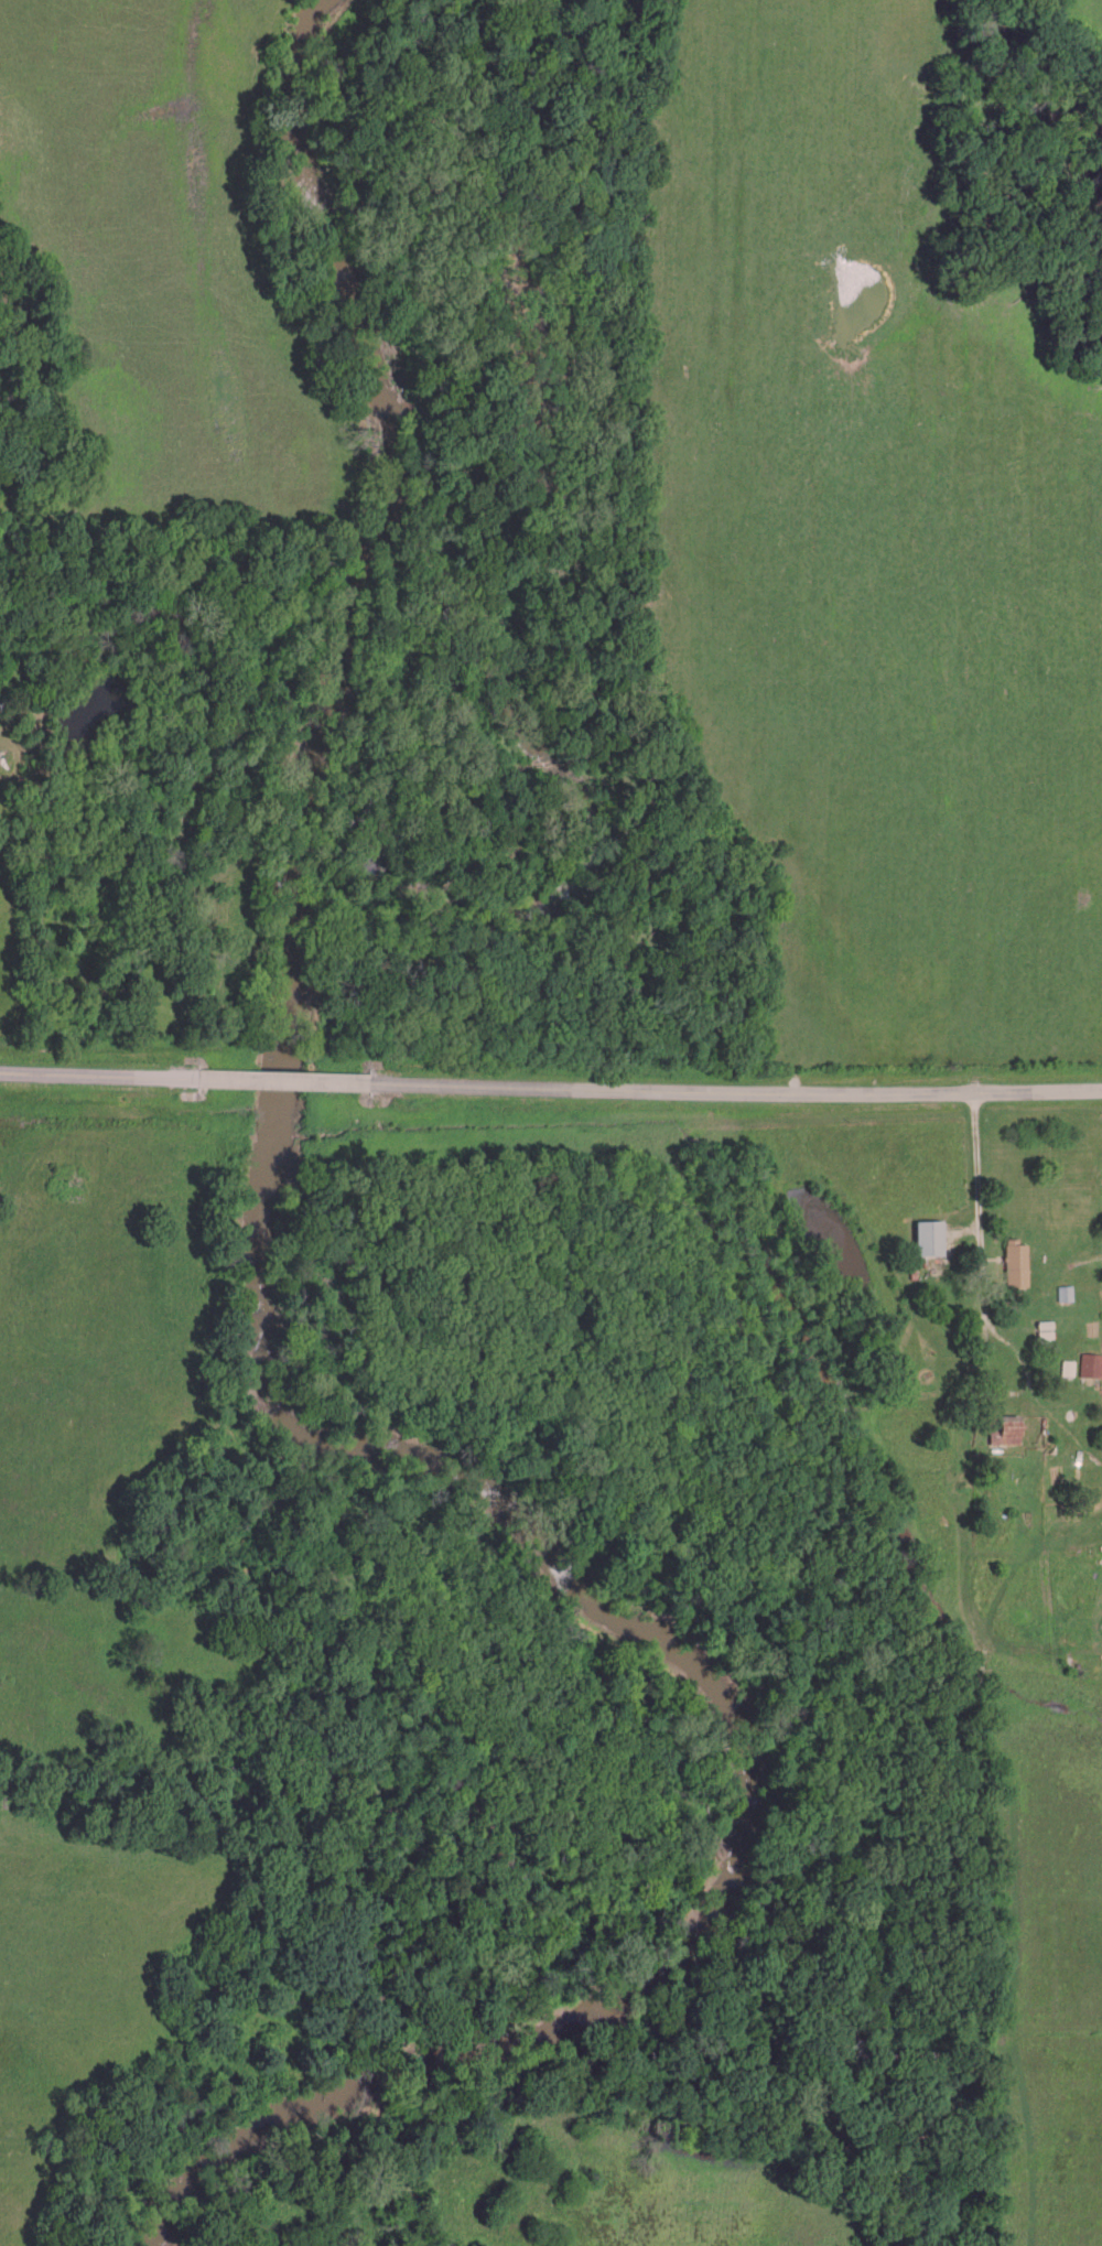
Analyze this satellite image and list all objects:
road: (99, 1077)
road: (283, 1082)
road: (734, 1092)
road: (981, 1209)
building: (932, 1234)
building: (1018, 1260)
building: (1067, 1291)
building: (1092, 1362)
road: (993, 1379)
building: (1007, 1429)

